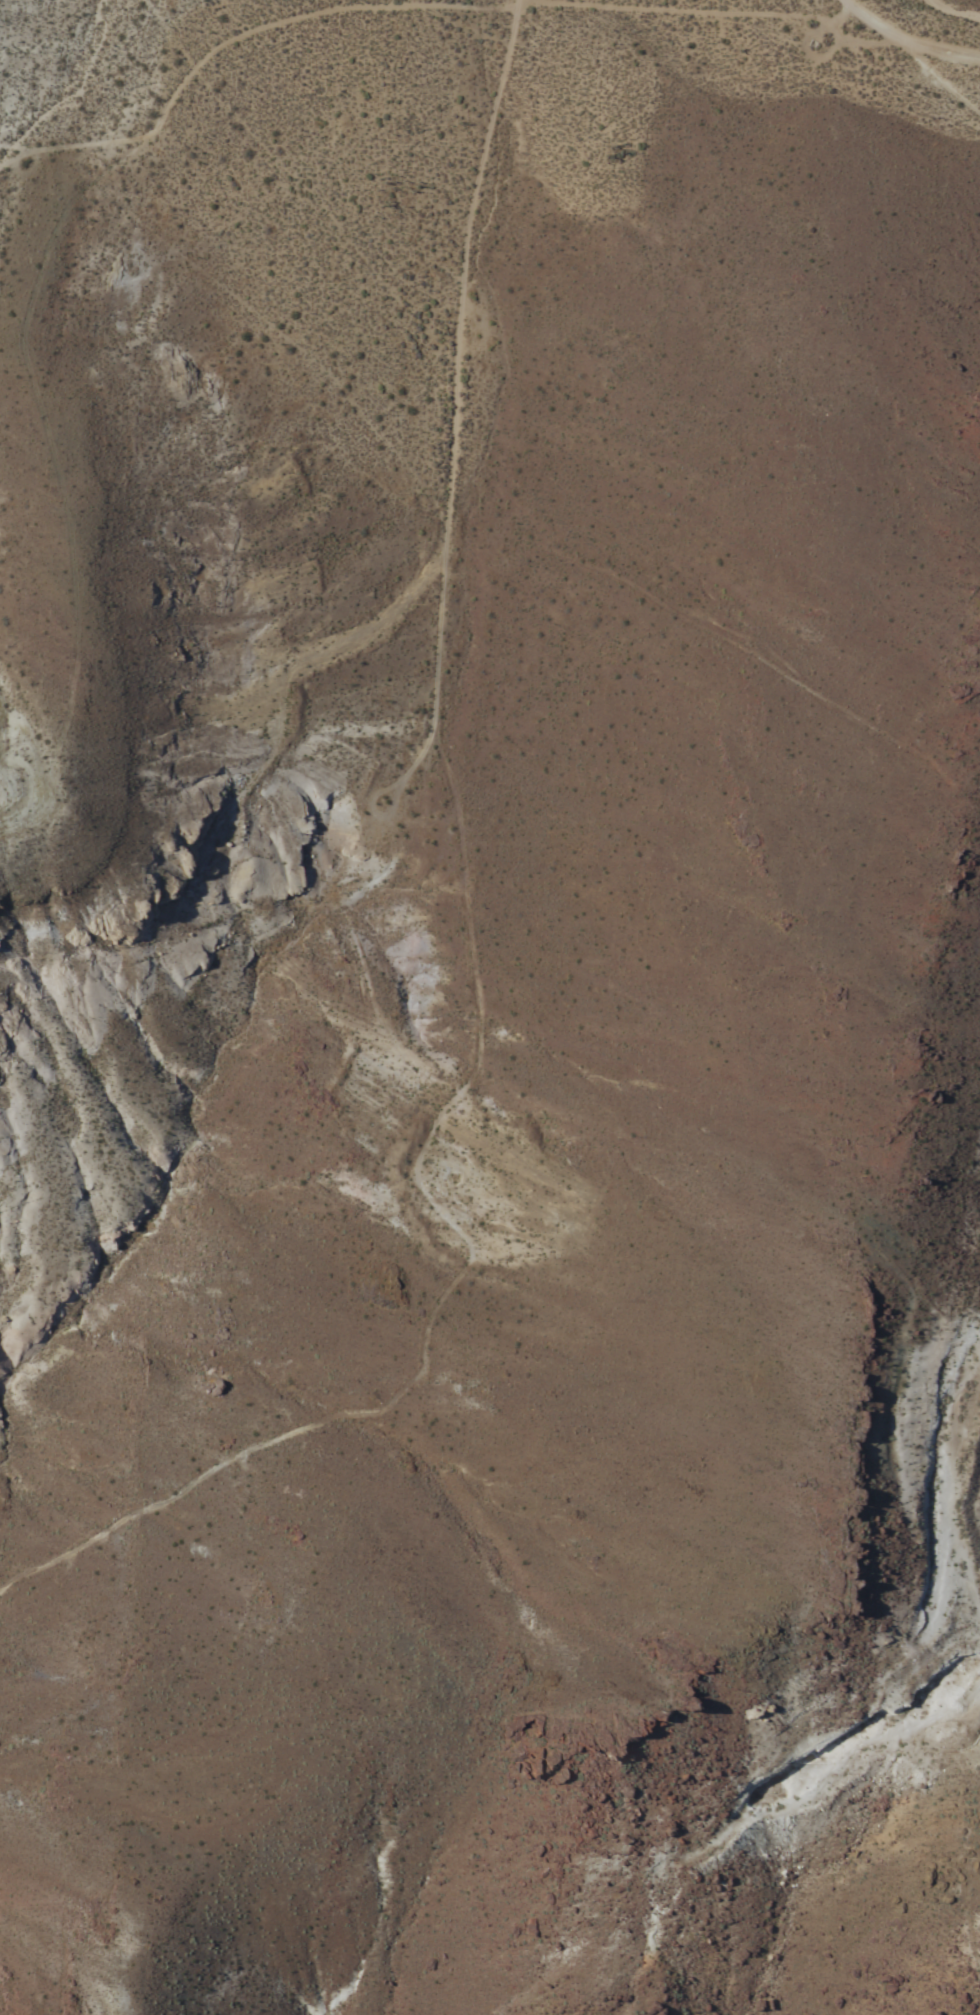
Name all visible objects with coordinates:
road: (699, 7)
road: (229, 32)
road: (842, 38)
road: (907, 38)
road: (450, 399)
road: (384, 809)

